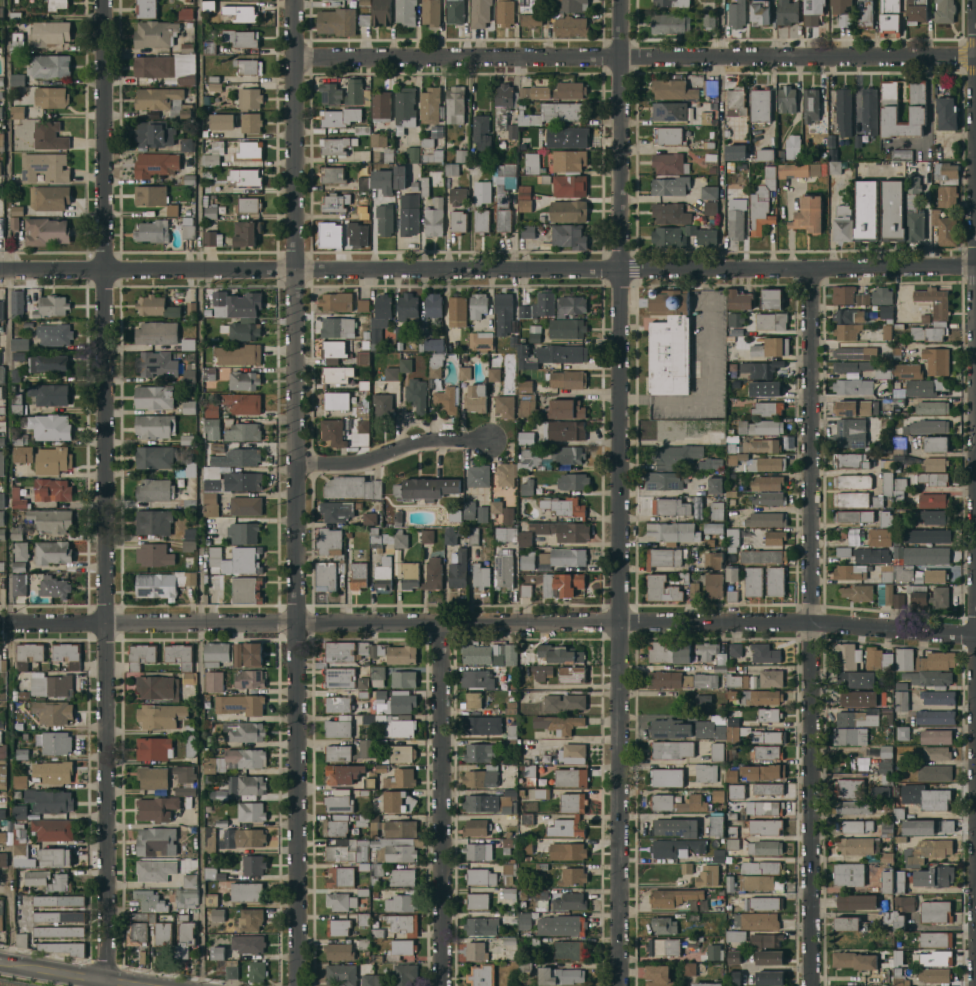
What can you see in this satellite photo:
building: (365, 2)
building: (527, 3)
building: (672, 3)
building: (57, 4)
building: (209, 5)
building: (571, 5)
building: (147, 9)
building: (456, 11)
building: (813, 11)
building: (843, 11)
building: (917, 11)
building: (945, 11)
building: (382, 12)
building: (406, 12)
building: (431, 12)
building: (506, 12)
building: (760, 12)
building: (788, 12)
building: (2, 13)
building: (186, 13)
building: (242, 13)
building: (481, 13)
building: (737, 14)
building: (865, 14)
building: (17, 15)
building: (891, 16)
building: (365, 19)
building: (531, 19)
building: (709, 19)
building: (337, 21)
building: (670, 23)
building: (571, 26)
building: (51, 32)
building: (156, 33)
building: (241, 38)
building: (18, 42)
building: (187, 45)
building: (210, 47)
road: (635, 57)
building: (248, 66)
building: (51, 67)
building: (166, 67)
building: (18, 79)
building: (214, 79)
building: (2, 81)
building: (215, 87)
building: (711, 87)
building: (673, 89)
building: (569, 90)
building: (357, 92)
building: (535, 92)
building: (331, 93)
building: (52, 97)
building: (250, 98)
building: (788, 99)
building: (737, 100)
building: (164, 101)
building: (870, 103)
building: (430, 104)
building: (455, 104)
building: (504, 104)
building: (761, 105)
building: (811, 105)
building: (844, 105)
building: (381, 106)
building: (406, 109)
building: (18, 111)
building: (564, 111)
building: (670, 111)
building: (918, 111)
building: (1, 112)
building: (947, 113)
building: (707, 117)
building: (333, 118)
building: (531, 119)
building: (223, 121)
building: (251, 122)
building: (363, 129)
building: (513, 131)
road: (199, 133)
building: (205, 133)
road: (720, 133)
building: (154, 134)
building: (49, 135)
building: (482, 135)
building: (670, 135)
building: (823, 140)
building: (832, 140)
building: (858, 141)
building: (2, 142)
building: (428, 142)
building: (187, 144)
building: (710, 144)
building: (337, 145)
building: (793, 146)
building: (381, 148)
building: (249, 151)
building: (413, 153)
building: (214, 154)
building: (762, 154)
building: (434, 155)
building: (462, 155)
building: (728, 155)
building: (781, 155)
building: (902, 155)
building: (711, 156)
building: (569, 160)
building: (670, 163)
building: (156, 164)
building: (533, 164)
building: (46, 167)
building: (835, 167)
building: (0, 168)
building: (378, 169)
building: (452, 169)
building: (475, 169)
building: (712, 169)
building: (800, 169)
building: (947, 172)
building: (333, 174)
building: (247, 176)
building: (400, 176)
building: (187, 179)
building: (546, 179)
building: (383, 180)
building: (364, 183)
building: (570, 185)
building: (671, 185)
building: (415, 186)
building: (425, 186)
building: (16, 189)
building: (525, 192)
building: (710, 192)
building: (458, 195)
building: (949, 195)
building: (50, 197)
building: (154, 197)
building: (504, 197)
building: (335, 202)
building: (763, 202)
building: (248, 204)
building: (525, 205)
building: (479, 206)
building: (710, 208)
building: (867, 210)
building: (893, 210)
building: (915, 210)
building: (18, 211)
building: (569, 211)
building: (211, 212)
building: (364, 212)
building: (671, 213)
building: (409, 214)
building: (809, 214)
building: (385, 216)
building: (435, 218)
building: (458, 221)
building: (844, 223)
building: (16, 224)
building: (737, 224)
building: (189, 227)
building: (946, 228)
building: (47, 231)
building: (152, 231)
building: (529, 231)
building: (246, 232)
building: (356, 233)
building: (570, 236)
building: (683, 236)
building: (213, 238)
road: (488, 268)
building: (843, 294)
building: (882, 296)
building: (773, 298)
building: (862, 298)
building: (740, 299)
building: (337, 301)
building: (935, 301)
building: (546, 302)
building: (18, 303)
building: (237, 304)
building: (364, 304)
building: (573, 304)
building: (51, 305)
building: (434, 305)
building: (478, 305)
building: (157, 306)
building: (408, 306)
building: (192, 308)
building: (2, 309)
building: (382, 310)
building: (457, 310)
road: (7, 311)
building: (526, 311)
building: (504, 312)
building: (886, 312)
building: (845, 315)
building: (860, 315)
building: (926, 318)
building: (735, 319)
building: (772, 321)
building: (338, 327)
building: (900, 327)
building: (424, 328)
building: (568, 328)
building: (243, 330)
building: (399, 332)
building: (735, 332)
building: (846, 332)
building: (887, 332)
building: (930, 332)
building: (157, 333)
building: (54, 336)
building: (535, 337)
building: (376, 338)
building: (731, 338)
building: (215, 339)
building: (481, 340)
building: (514, 340)
building: (670, 342)
building: (21, 344)
building: (189, 344)
building: (366, 344)
building: (434, 344)
building: (772, 347)
building: (335, 349)
building: (904, 351)
building: (855, 352)
building: (239, 354)
building: (551, 355)
building: (20, 356)
building: (363, 357)
building: (936, 360)
building: (495, 361)
building: (48, 362)
building: (154, 363)
building: (436, 364)
building: (406, 365)
building: (852, 366)
building: (367, 368)
building: (763, 368)
building: (908, 370)
building: (190, 372)
building: (465, 372)
building: (209, 373)
building: (392, 373)
building: (884, 373)
building: (2, 374)
building: (337, 374)
building: (495, 374)
building: (17, 376)
building: (567, 379)
building: (245, 380)
building: (364, 386)
building: (526, 386)
building: (854, 386)
building: (927, 386)
building: (765, 388)
building: (1, 392)
building: (897, 393)
building: (50, 394)
building: (417, 395)
building: (155, 396)
building: (476, 398)
building: (336, 400)
building: (447, 400)
building: (17, 402)
building: (900, 402)
building: (235, 404)
building: (384, 404)
building: (506, 405)
building: (189, 406)
building: (528, 407)
building: (860, 407)
building: (932, 407)
building: (767, 408)
building: (2, 409)
building: (565, 409)
building: (363, 411)
building: (2, 418)
building: (927, 424)
building: (155, 425)
building: (363, 425)
building: (49, 427)
building: (761, 427)
building: (232, 429)
building: (567, 430)
building: (666, 430)
building: (731, 431)
building: (333, 432)
building: (851, 432)
building: (527, 437)
building: (715, 437)
building: (20, 439)
building: (187, 439)
building: (3, 440)
building: (936, 443)
building: (763, 445)
building: (900, 445)
building: (218, 447)
building: (353, 448)
building: (189, 449)
road: (390, 451)
building: (23, 454)
building: (568, 454)
building: (156, 456)
building: (238, 457)
building: (683, 457)
building: (738, 457)
building: (529, 458)
building: (53, 460)
building: (851, 461)
building: (2, 462)
building: (767, 463)
building: (936, 463)
building: (886, 465)
building: (188, 468)
building: (451, 473)
building: (506, 474)
building: (479, 476)
building: (212, 478)
building: (933, 478)
building: (664, 480)
building: (243, 481)
building: (574, 481)
building: (853, 481)
building: (768, 482)
building: (888, 483)
building: (900, 483)
building: (716, 485)
building: (528, 486)
building: (732, 486)
building: (353, 487)
road: (104, 488)
building: (426, 488)
building: (52, 489)
building: (155, 489)
road: (661, 491)
road: (295, 492)
road: (618, 492)
building: (732, 493)
building: (900, 495)
building: (19, 498)
building: (769, 498)
building: (857, 499)
building: (2, 500)
building: (932, 500)
building: (190, 503)
building: (211, 504)
building: (359, 504)
building: (247, 505)
building: (497, 506)
building: (564, 506)
building: (671, 506)
building: (470, 509)
building: (717, 509)
building: (336, 510)
building: (483, 513)
building: (455, 514)
building: (370, 516)
building: (854, 516)
building: (935, 516)
building: (2, 517)
building: (398, 518)
building: (52, 519)
building: (767, 519)
building: (886, 520)
building: (154, 521)
building: (714, 528)
building: (564, 530)
building: (672, 531)
building: (243, 532)
building: (17, 533)
building: (190, 533)
building: (3, 534)
building: (507, 534)
building: (930, 535)
building: (429, 536)
building: (451, 536)
building: (474, 536)
building: (880, 536)
building: (775, 537)
building: (401, 538)
building: (525, 538)
building: (381, 539)
building: (733, 539)
building: (709, 541)
building: (899, 541)
building: (330, 542)
building: (189, 545)
building: (891, 548)
building: (21, 550)
building: (843, 551)
building: (898, 551)
building: (53, 552)
building: (154, 554)
building: (872, 555)
building: (927, 555)
building: (565, 556)
building: (763, 556)
building: (665, 557)
building: (714, 559)
building: (236, 560)
building: (528, 560)
building: (2, 565)
building: (19, 566)
building: (342, 566)
building: (458, 568)
building: (504, 569)
building: (851, 571)
building: (734, 572)
building: (384, 573)
building: (887, 573)
building: (410, 574)
building: (434, 574)
building: (937, 574)
building: (359, 575)
building: (481, 575)
building: (327, 576)
building: (685, 576)
building: (212, 577)
building: (753, 581)
building: (776, 581)
building: (20, 583)
building: (164, 583)
building: (562, 584)
building: (714, 585)
building: (55, 586)
building: (663, 589)
building: (695, 589)
building: (247, 590)
building: (526, 590)
building: (858, 592)
building: (886, 594)
building: (733, 595)
building: (929, 596)
building: (899, 600)
road: (488, 623)
road: (809, 626)
building: (364, 646)
building: (707, 650)
building: (736, 650)
building: (340, 651)
building: (395, 652)
building: (672, 652)
building: (254, 653)
building: (511, 653)
building: (561, 653)
building: (765, 653)
building: (29, 654)
building: (68, 654)
building: (217, 654)
building: (481, 654)
building: (141, 655)
building: (180, 655)
building: (847, 656)
building: (238, 657)
building: (722, 658)
building: (879, 659)
building: (905, 659)
building: (934, 661)
building: (3, 664)
building: (721, 668)
building: (731, 668)
building: (542, 672)
building: (573, 673)
building: (378, 675)
building: (340, 677)
building: (190, 678)
building: (250, 678)
building: (404, 678)
building: (770, 678)
building: (857, 678)
building: (930, 678)
building: (477, 679)
building: (669, 679)
building: (705, 680)
building: (734, 680)
building: (215, 681)
building: (363, 682)
building: (51, 684)
building: (513, 685)
building: (902, 685)
building: (158, 687)
building: (363, 694)
building: (382, 694)
building: (767, 696)
building: (939, 697)
building: (859, 698)
building: (473, 699)
building: (703, 700)
building: (564, 701)
building: (902, 701)
building: (339, 703)
building: (401, 703)
building: (241, 704)
building: (512, 708)
building: (53, 711)
building: (770, 714)
building: (162, 715)
building: (936, 716)
building: (207, 717)
building: (382, 718)
building: (720, 718)
building: (856, 718)
building: (369, 719)
building: (733, 721)
building: (559, 723)
building: (2, 724)
building: (483, 725)
building: (403, 726)
building: (767, 726)
building: (339, 727)
building: (190, 728)
building: (670, 728)
building: (709, 729)
building: (246, 731)
building: (512, 731)
building: (903, 733)
building: (733, 735)
building: (1, 736)
building: (768, 736)
building: (850, 736)
building: (936, 736)
building: (211, 739)
building: (338, 741)
building: (54, 742)
building: (381, 742)
building: (511, 742)
building: (191, 745)
building: (155, 748)
building: (672, 749)
building: (3, 750)
building: (350, 751)
building: (718, 751)
building: (479, 752)
building: (768, 752)
building: (937, 752)
building: (22, 753)
building: (403, 753)
building: (573, 753)
building: (887, 754)
building: (385, 758)
building: (237, 760)
building: (862, 763)
building: (382, 768)
building: (887, 768)
building: (54, 771)
building: (763, 771)
building: (935, 772)
building: (185, 773)
building: (344, 773)
building: (706, 773)
building: (530, 774)
building: (733, 775)
building: (482, 776)
building: (3, 777)
building: (153, 777)
building: (572, 777)
building: (667, 777)
building: (401, 778)
building: (887, 778)
building: (21, 781)
building: (369, 782)
building: (251, 784)
building: (768, 788)
building: (851, 788)
building: (186, 790)
building: (737, 791)
building: (365, 792)
building: (375, 792)
building: (511, 792)
building: (883, 792)
building: (538, 793)
building: (222, 795)
building: (719, 795)
building: (927, 797)
building: (514, 799)
building: (50, 800)
building: (398, 801)
building: (189, 802)
building: (482, 802)
building: (573, 802)
building: (339, 803)
building: (679, 803)
road: (199, 804)
road: (437, 804)
building: (766, 807)
building: (855, 807)
building: (158, 808)
building: (509, 809)
building: (252, 811)
building: (2, 812)
building: (21, 812)
building: (899, 813)
building: (887, 814)
building: (732, 815)
building: (527, 818)
building: (0, 820)
building: (363, 820)
building: (222, 822)
building: (718, 824)
building: (337, 825)
building: (565, 826)
building: (856, 826)
building: (928, 826)
building: (477, 827)
building: (676, 827)
building: (764, 827)
building: (887, 827)
building: (374, 828)
building: (400, 828)
building: (52, 829)
building: (732, 832)
building: (509, 834)
building: (21, 835)
building: (3, 836)
building: (250, 837)
building: (228, 838)
building: (901, 838)
building: (157, 840)
building: (210, 840)
building: (376, 843)
building: (733, 843)
building: (509, 844)
building: (859, 845)
building: (526, 846)
building: (676, 846)
building: (765, 847)
building: (930, 849)
building: (348, 850)
building: (403, 851)
building: (479, 851)
building: (568, 851)
building: (719, 855)
building: (23, 856)
building: (56, 856)
building: (887, 857)
building: (529, 858)
building: (3, 859)
building: (254, 864)
building: (542, 866)
building: (364, 867)
building: (762, 867)
building: (687, 868)
building: (155, 869)
building: (377, 872)
building: (509, 872)
building: (849, 874)
building: (216, 875)
building: (708, 875)
building: (341, 876)
building: (403, 876)
building: (477, 876)
building: (573, 876)
building: (935, 876)
building: (37, 877)
building: (190, 880)
building: (889, 881)
building: (900, 881)
building: (60, 882)
building: (759, 882)
building: (730, 883)
building: (45, 889)
building: (247, 891)
building: (364, 892)
building: (510, 896)
building: (674, 896)
building: (186, 897)
building: (542, 897)
building: (211, 899)
building: (59, 900)
building: (150, 900)
building: (477, 900)
building: (571, 900)
building: (341, 901)
building: (402, 901)
building: (857, 901)
road: (9, 903)
building: (765, 903)
building: (497, 907)
building: (902, 910)
building: (936, 911)
building: (1, 913)
building: (218, 914)
building: (59, 916)
building: (139, 916)
building: (693, 916)
building: (251, 918)
building: (364, 919)
building: (889, 919)
building: (757, 920)
building: (515, 921)
building: (525, 921)
building: (403, 923)
building: (849, 923)
building: (482, 925)
building: (563, 925)
building: (664, 925)
building: (339, 926)
building: (377, 929)
building: (60, 931)
building: (162, 931)
building: (138, 933)
building: (737, 936)
building: (22, 939)
building: (185, 939)
building: (936, 939)
building: (766, 940)
building: (510, 941)
building: (364, 943)
building: (694, 943)
building: (248, 944)
building: (664, 946)
building: (64, 947)
building: (401, 948)
building: (570, 949)
building: (339, 950)
building: (476, 950)
building: (219, 952)
building: (715, 952)
building: (885, 952)
road: (44, 953)
building: (735, 956)
building: (770, 957)
building: (937, 957)
building: (377, 958)
building: (855, 960)
road: (105, 963)
building: (888, 963)
road: (52, 967)
building: (228, 968)
building: (525, 968)
building: (690, 968)
building: (258, 971)
building: (342, 974)
building: (405, 974)
building: (934, 974)
building: (482, 975)
building: (659, 975)
road: (189, 976)
building: (560, 976)
building: (735, 977)
building: (770, 977)
building: (898, 977)
building: (368, 980)
building: (381, 980)
road: (132, 981)
railway: (10, 984)
building: (513, 984)
building: (708, 984)
building: (525, 985)

